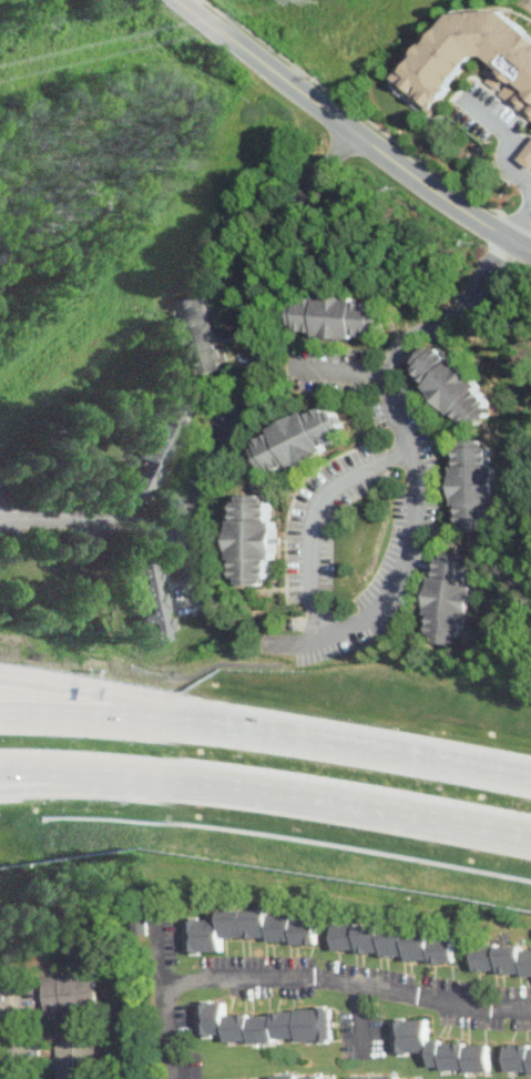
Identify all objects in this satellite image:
road: (193, 3)
building: (476, 55)
road: (486, 113)
road: (366, 120)
road: (354, 130)
building: (528, 156)
road: (506, 162)
road: (520, 222)
building: (338, 316)
building: (201, 334)
road: (345, 369)
road: (253, 384)
building: (455, 387)
building: (299, 439)
building: (161, 444)
road: (411, 465)
building: (476, 486)
road: (312, 518)
road: (90, 521)
building: (253, 540)
building: (451, 597)
building: (154, 601)
road: (133, 703)
road: (266, 732)
road: (95, 772)
road: (94, 784)
road: (360, 806)
building: (140, 923)
building: (248, 929)
building: (395, 943)
road: (154, 953)
building: (501, 959)
road: (302, 974)
building: (69, 994)
road: (360, 1018)
building: (264, 1025)
road: (14, 1034)
building: (438, 1047)
building: (518, 1059)
building: (75, 1060)
building: (294, 1077)
building: (387, 1077)

